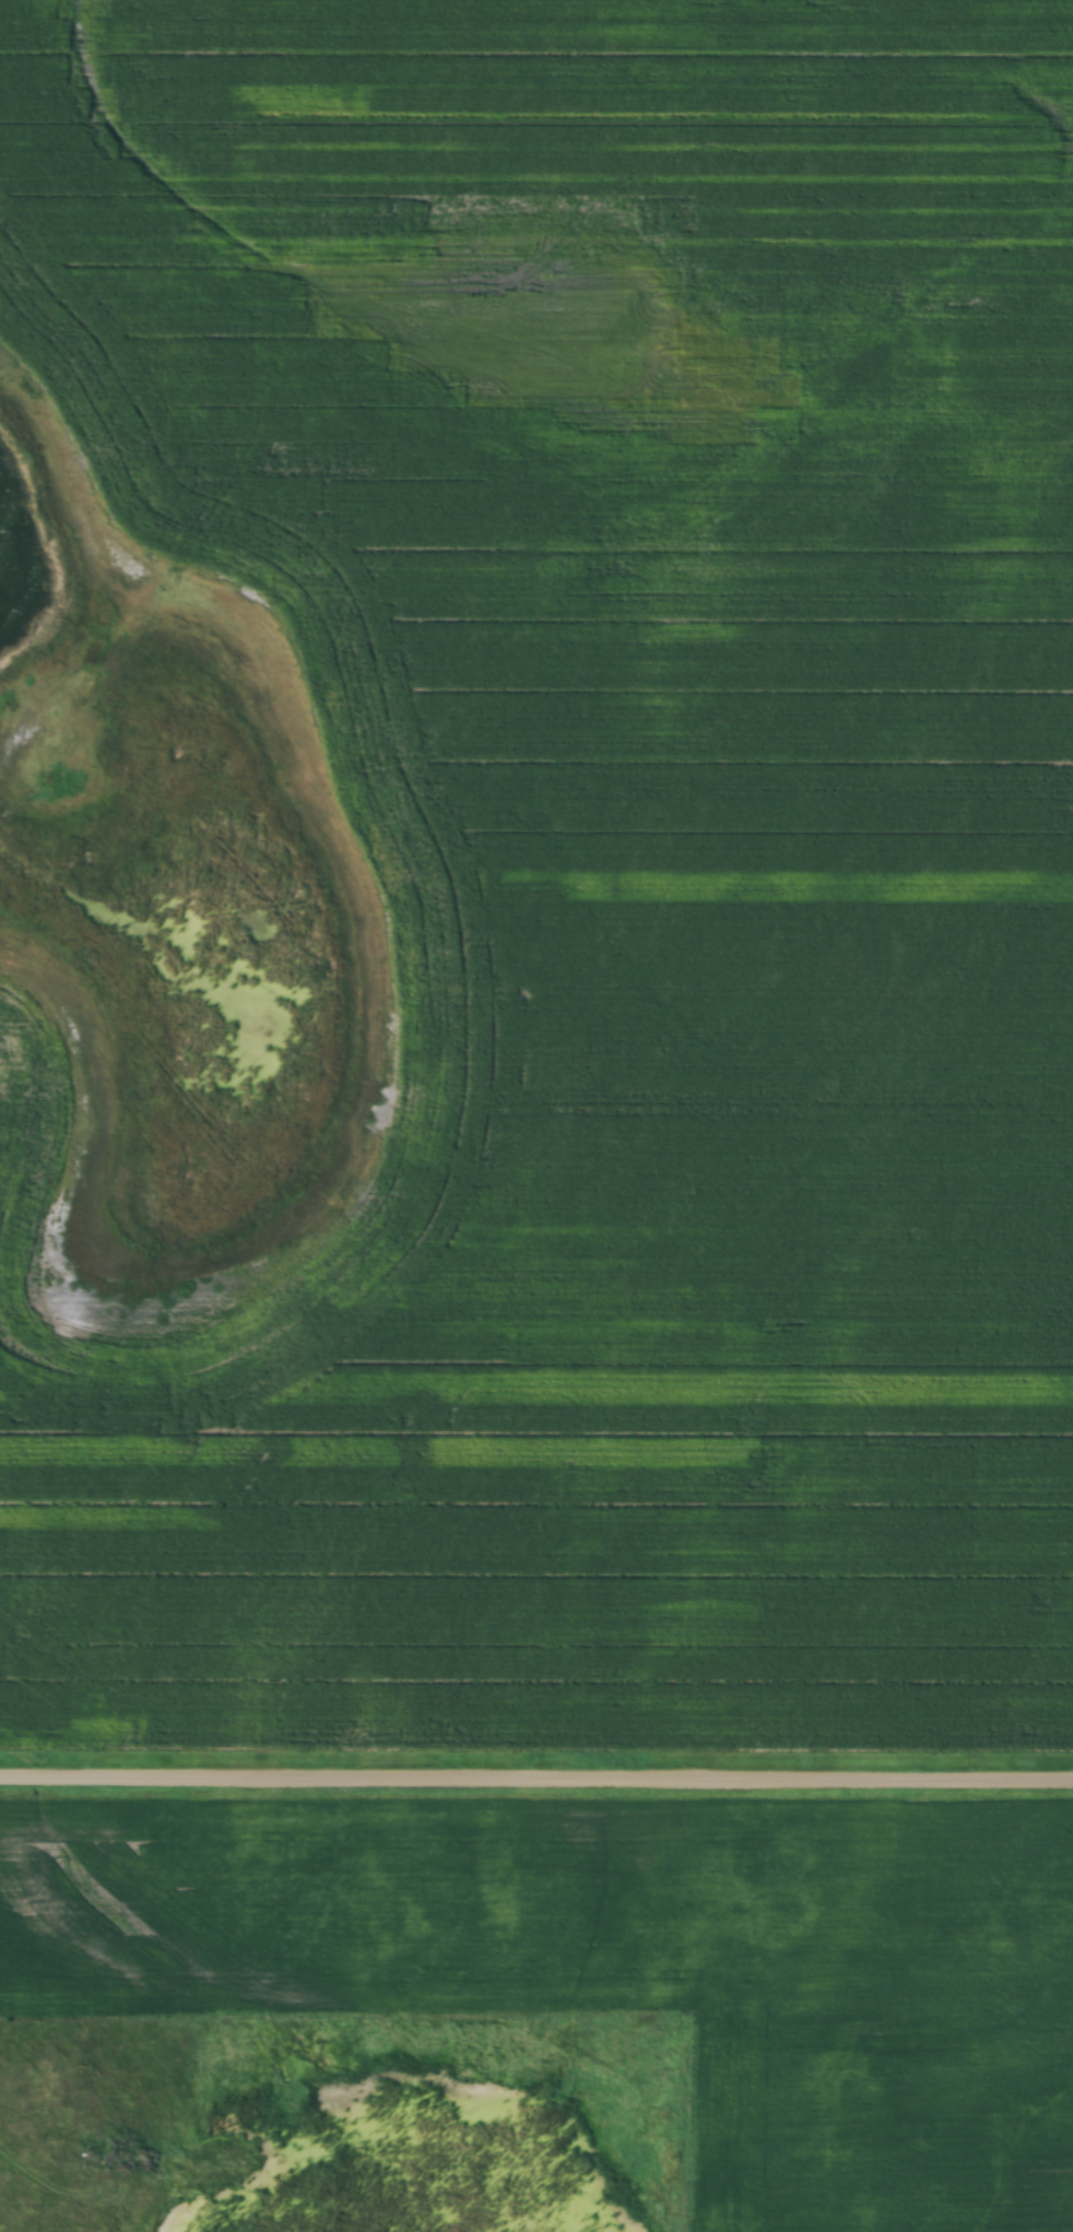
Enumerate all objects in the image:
road: (535, 1782)

